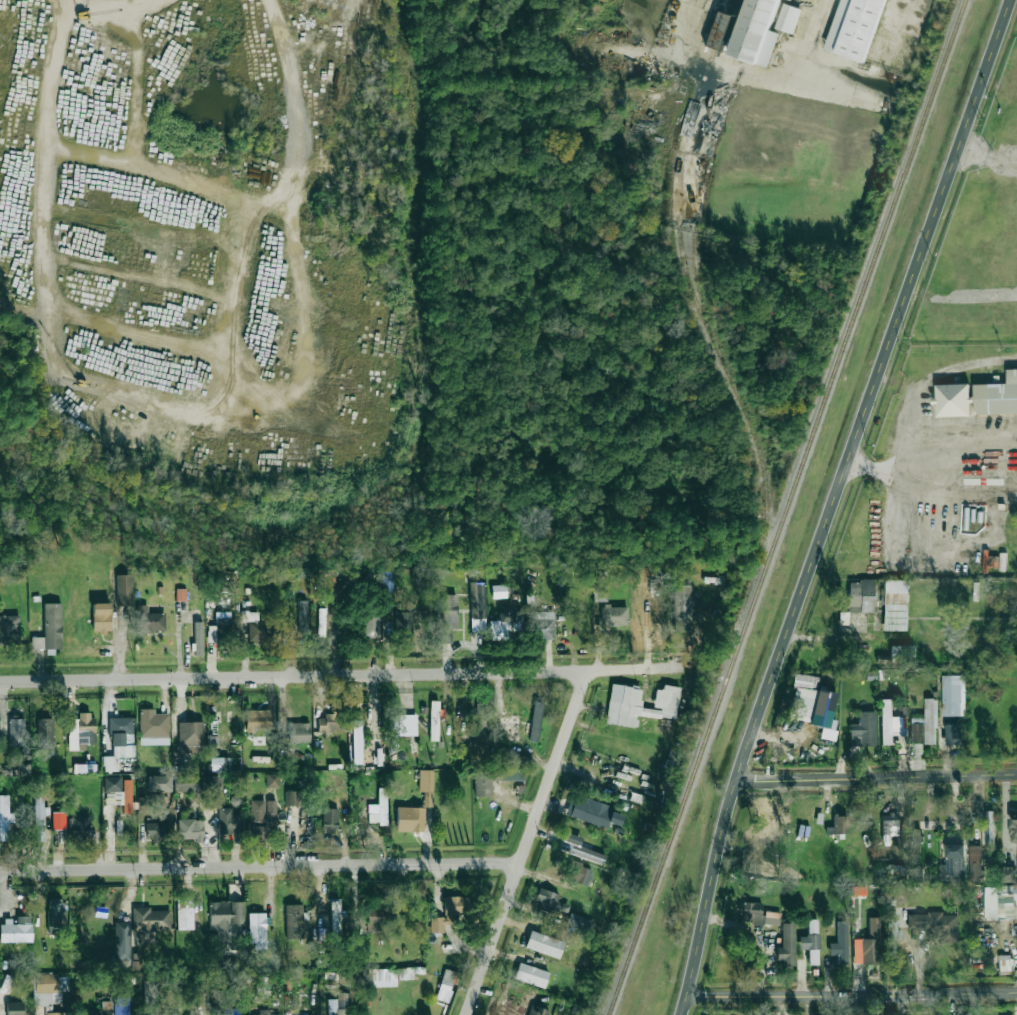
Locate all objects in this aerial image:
road: (118, 6)
building: (788, 18)
building: (723, 27)
building: (855, 28)
building: (756, 32)
railway: (679, 183)
railway: (709, 314)
building: (997, 396)
building: (952, 400)
road: (913, 428)
road: (930, 467)
road: (831, 503)
railway: (788, 507)
building: (387, 581)
building: (124, 589)
building: (499, 591)
building: (600, 593)
building: (181, 594)
building: (860, 596)
building: (894, 605)
building: (478, 607)
building: (683, 607)
building: (614, 616)
building: (101, 617)
building: (302, 617)
building: (445, 617)
building: (149, 620)
building: (404, 624)
building: (370, 625)
building: (542, 626)
building: (256, 628)
building: (9, 629)
building: (221, 629)
building: (50, 630)
building: (498, 630)
building: (194, 640)
building: (902, 652)
road: (341, 675)
building: (951, 695)
building: (639, 704)
building: (812, 705)
building: (258, 719)
building: (433, 720)
building: (480, 720)
building: (536, 721)
building: (331, 723)
building: (890, 723)
building: (924, 725)
building: (153, 728)
building: (863, 729)
building: (81, 731)
building: (16, 732)
building: (298, 732)
building: (45, 733)
road: (777, 733)
building: (953, 734)
building: (190, 735)
building: (212, 740)
building: (356, 742)
building: (118, 743)
building: (519, 760)
building: (219, 764)
building: (84, 768)
road: (876, 779)
building: (272, 780)
building: (159, 783)
building: (188, 783)
building: (426, 786)
building: (119, 791)
building: (212, 791)
building: (291, 798)
building: (236, 800)
building: (379, 808)
building: (262, 811)
building: (592, 812)
building: (765, 816)
building: (5, 818)
building: (38, 818)
building: (410, 819)
building: (330, 820)
building: (58, 821)
building: (229, 822)
building: (840, 824)
building: (80, 825)
building: (1013, 828)
building: (190, 829)
building: (155, 831)
building: (257, 833)
building: (915, 840)
road: (525, 843)
building: (579, 849)
building: (953, 864)
building: (975, 864)
road: (258, 869)
building: (581, 874)
building: (1007, 874)
building: (1000, 901)
building: (549, 902)
building: (449, 912)
building: (185, 913)
building: (758, 915)
building: (55, 916)
building: (379, 916)
building: (225, 917)
building: (150, 919)
building: (335, 919)
building: (293, 921)
building: (579, 922)
building: (935, 925)
building: (257, 927)
building: (16, 929)
building: (891, 932)
building: (122, 942)
building: (811, 942)
building: (840, 942)
building: (544, 944)
building: (868, 944)
building: (786, 946)
building: (1005, 965)
building: (531, 975)
building: (384, 977)
building: (446, 984)
building: (263, 985)
building: (49, 988)
building: (150, 994)
road: (852, 997)
building: (339, 1004)
building: (121, 1006)
building: (14, 1008)
building: (103, 1009)
building: (537, 1011)
building: (265, 1012)
building: (54, 1013)
building: (174, 1014)

